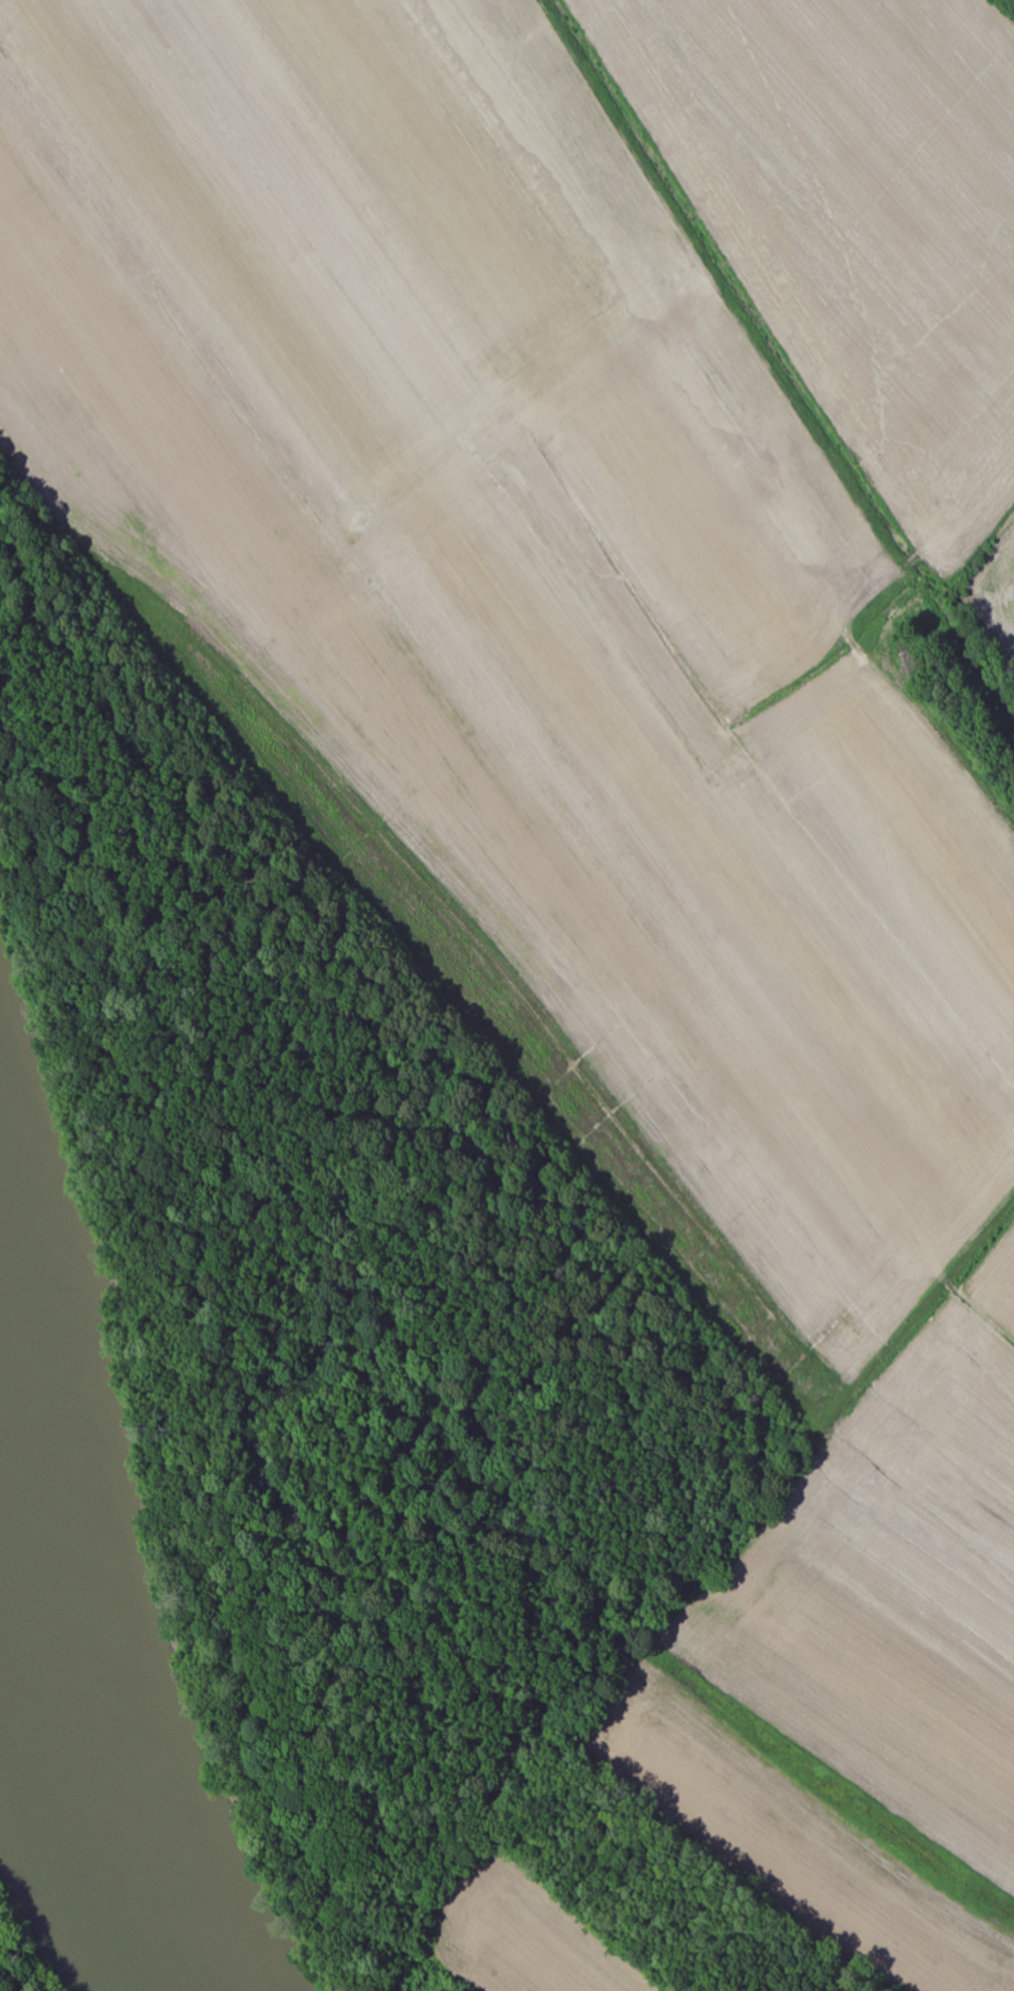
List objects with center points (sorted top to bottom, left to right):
river: (73, 1784)

